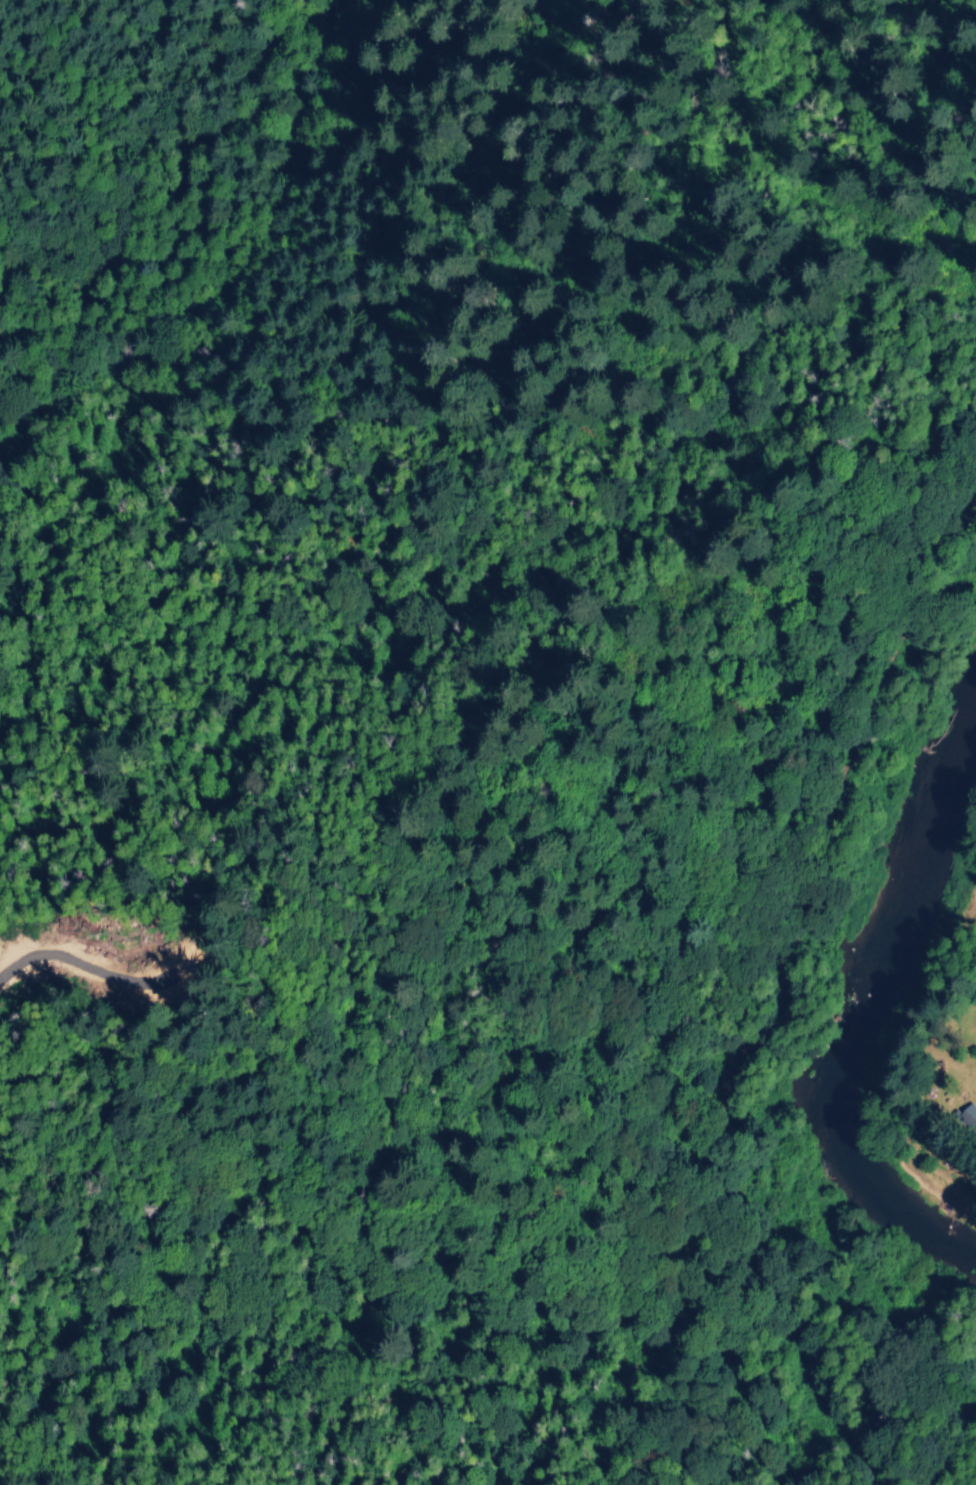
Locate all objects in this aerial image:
river: (872, 989)
building: (966, 1116)

